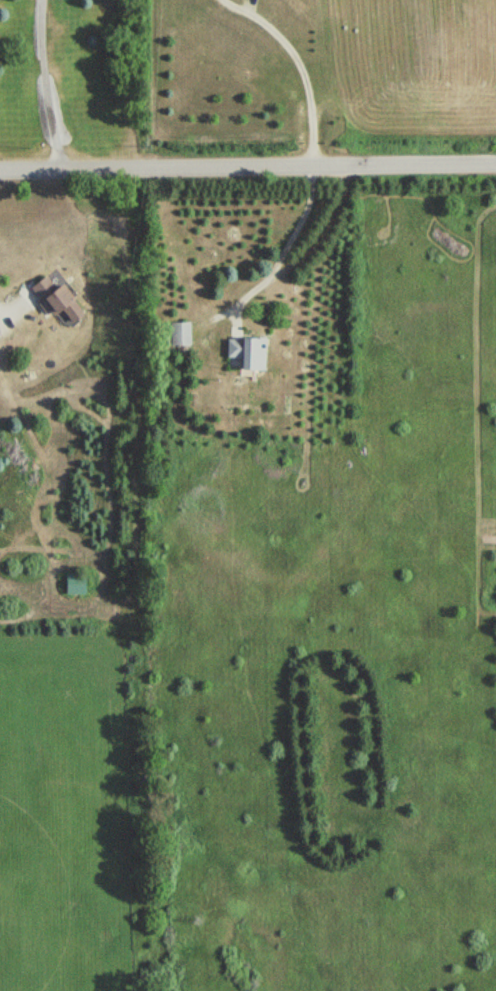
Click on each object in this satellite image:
road: (298, 74)
road: (42, 82)
road: (247, 162)
road: (287, 242)
building: (51, 299)
road: (1, 315)
building: (179, 335)
building: (244, 354)
building: (72, 585)

